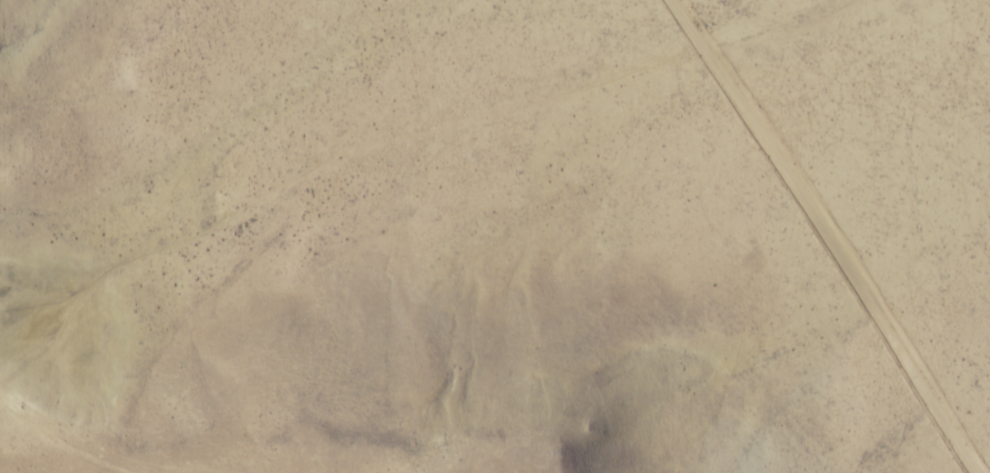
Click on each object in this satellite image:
road: (807, 228)
road: (982, 398)
road: (111, 451)

